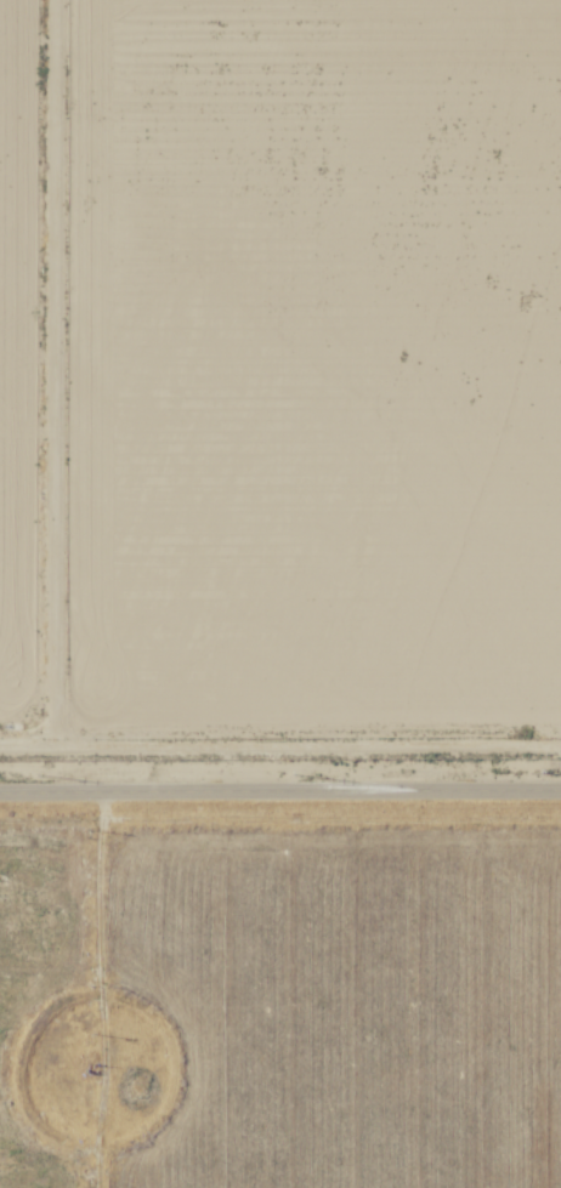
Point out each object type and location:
crop: (279, 381)
road: (280, 791)
crop: (280, 1001)

